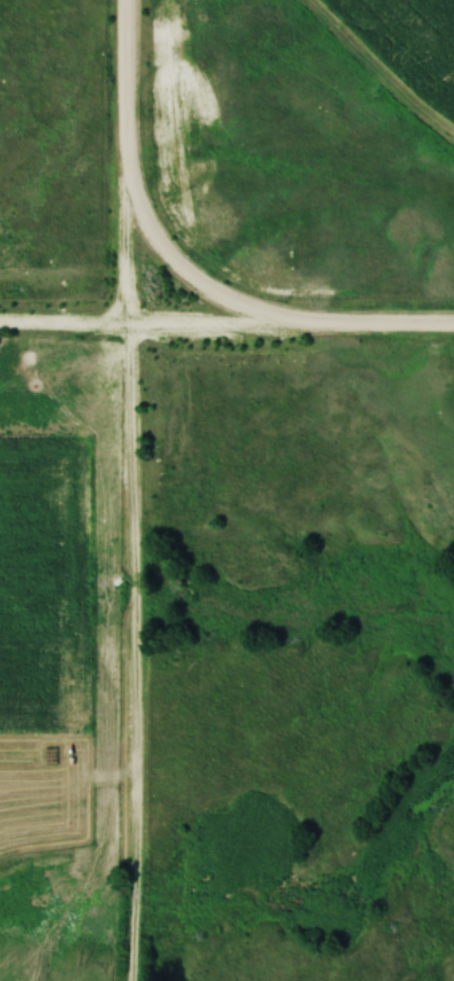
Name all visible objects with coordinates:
road: (183, 267)
road: (157, 319)
road: (139, 565)

